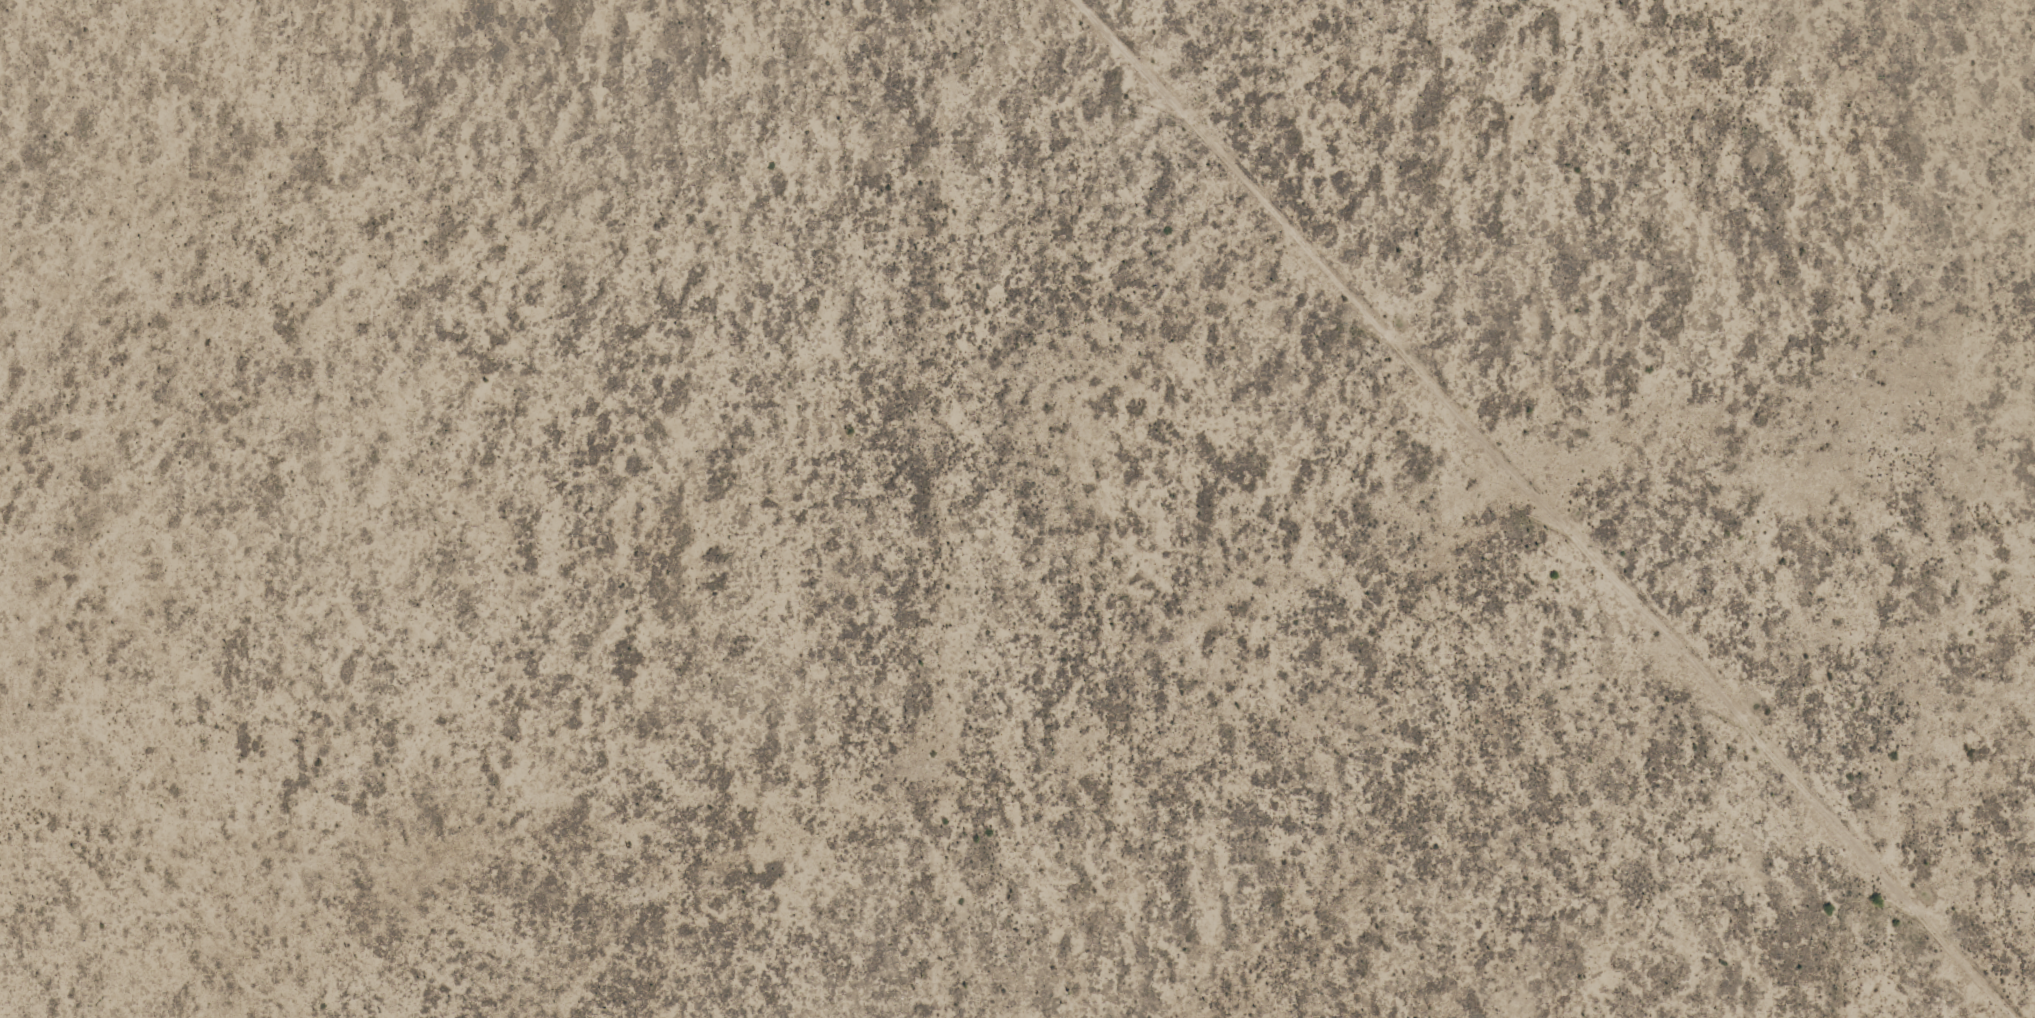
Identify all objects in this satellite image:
road: (1508, 509)

